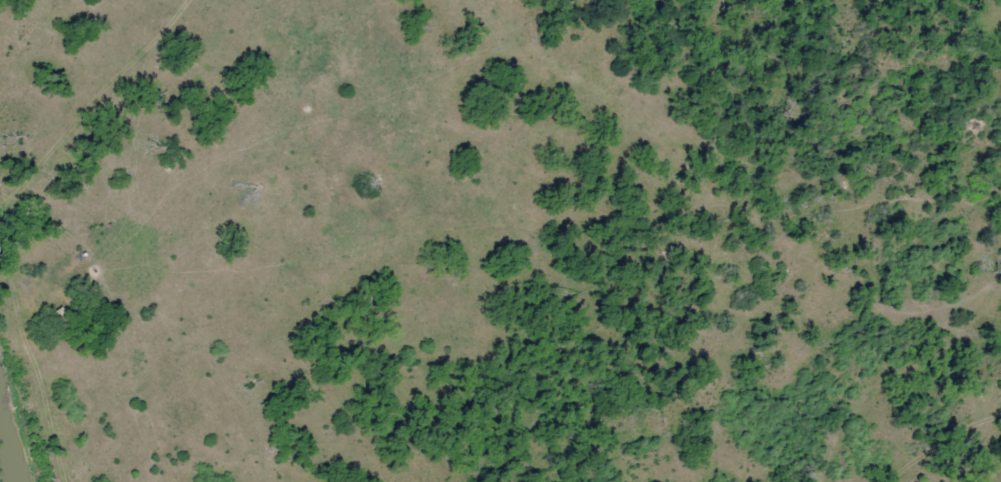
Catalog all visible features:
road: (16, 214)
building: (57, 313)
road: (898, 481)

